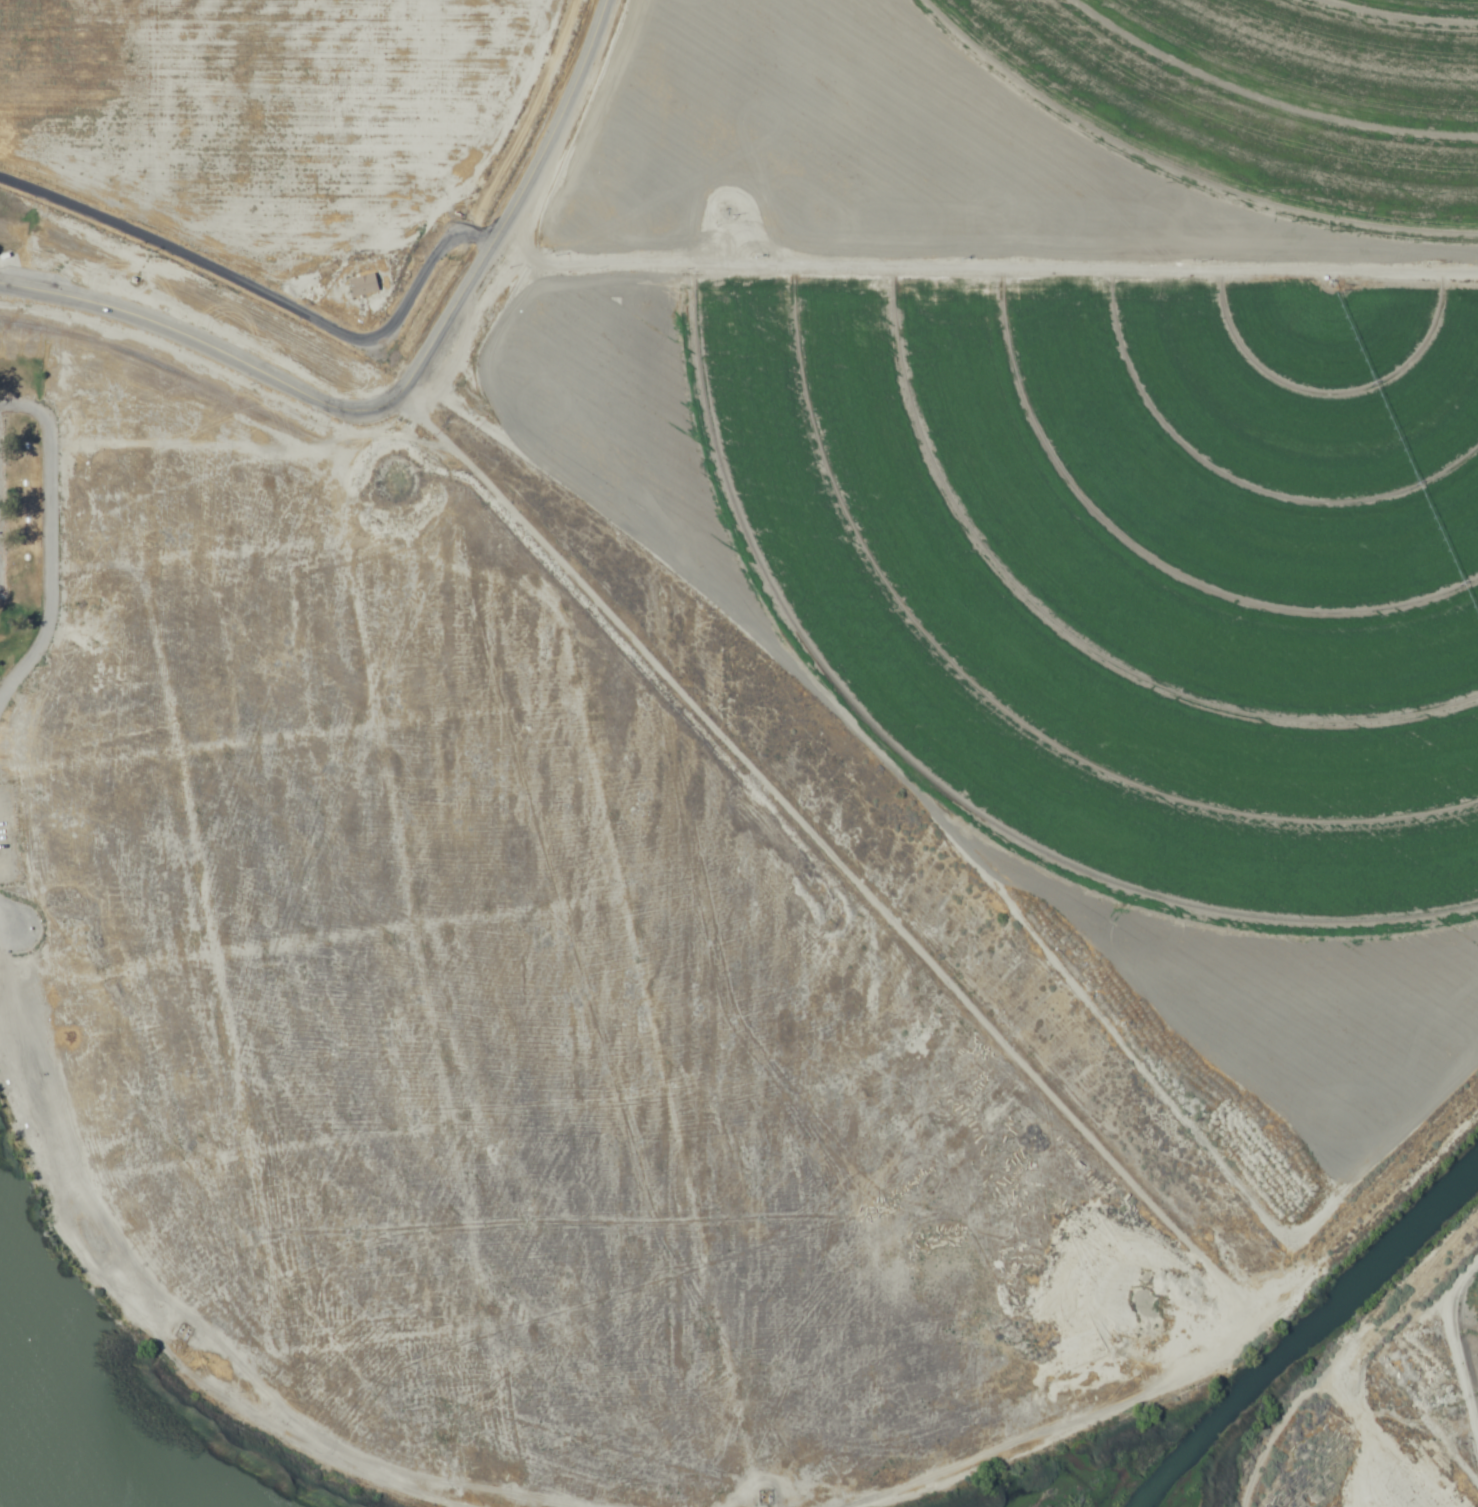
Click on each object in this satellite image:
road: (614, 14)
road: (643, 155)
road: (519, 229)
building: (363, 284)
road: (275, 298)
road: (1067, 307)
road: (195, 329)
crop: (1130, 469)

